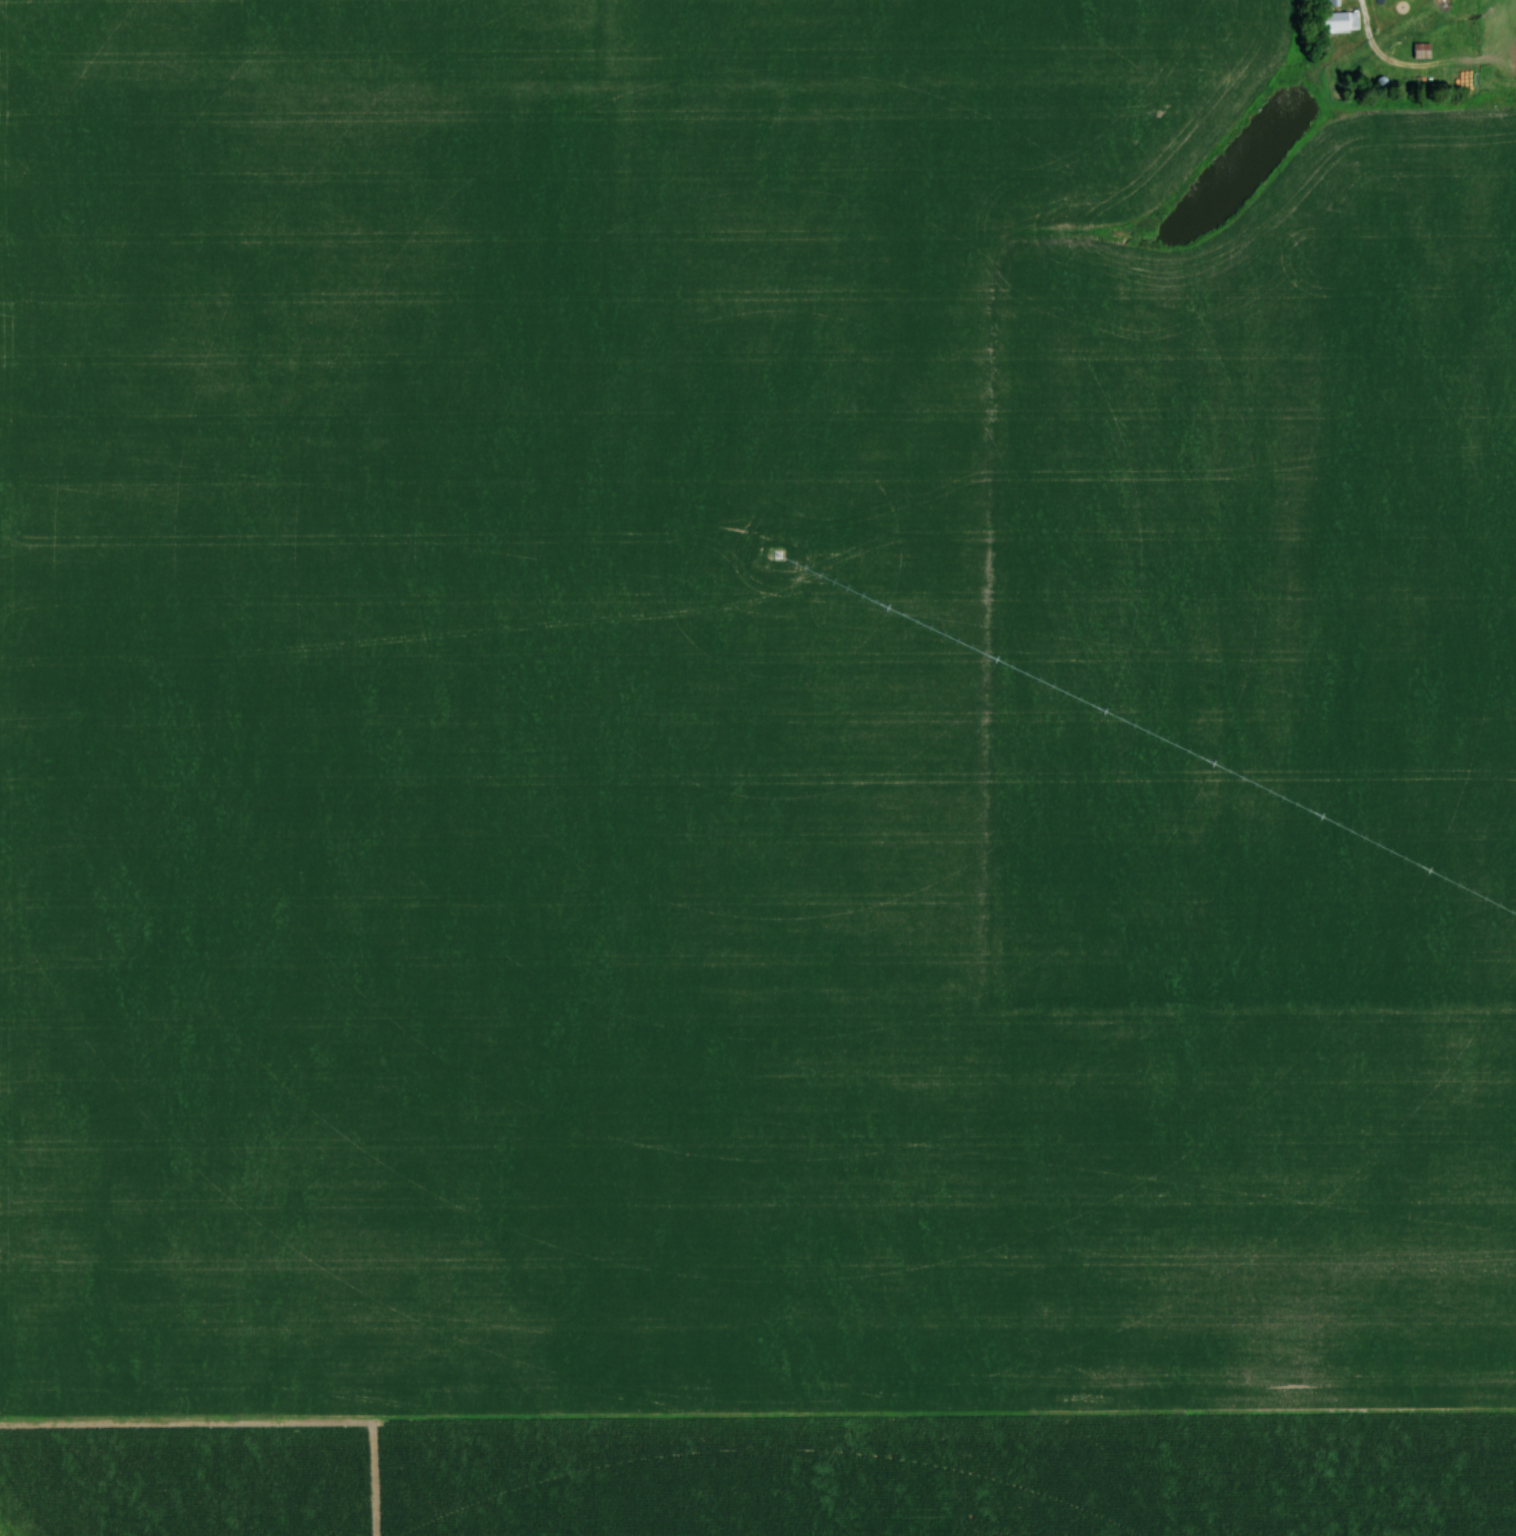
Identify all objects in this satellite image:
building: (1344, 20)
building: (1425, 50)
crop: (749, 716)

